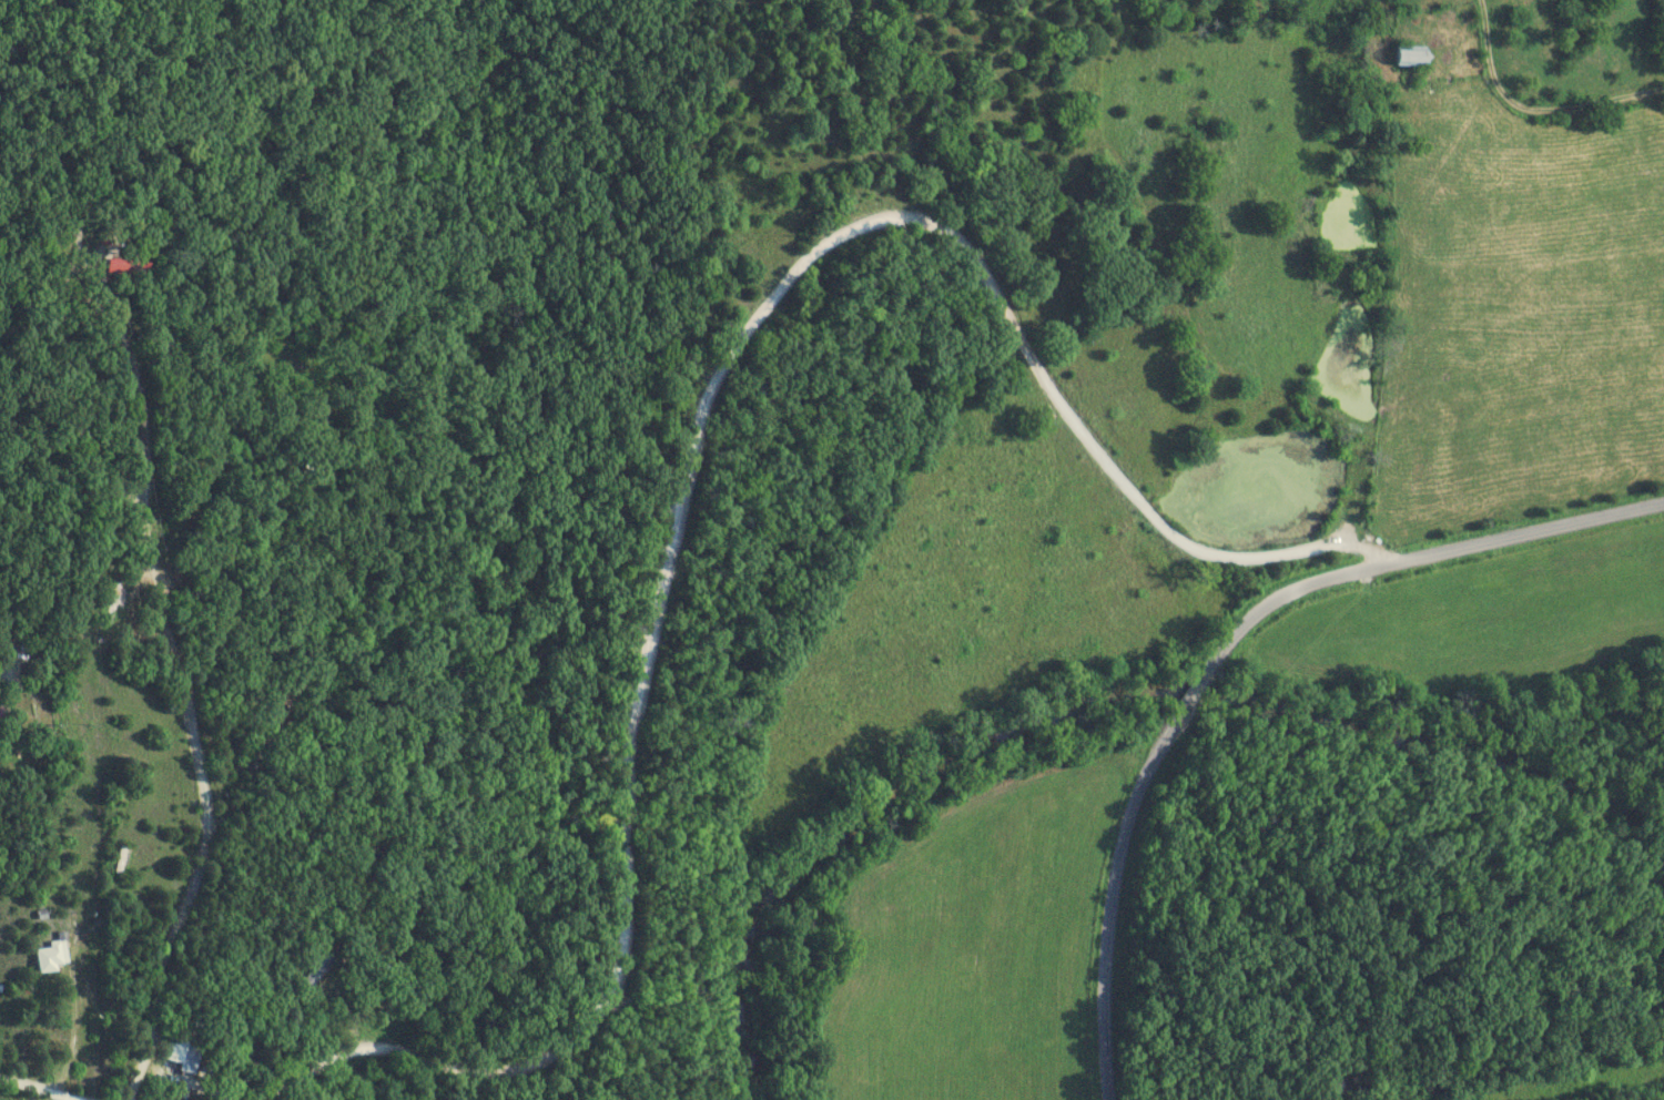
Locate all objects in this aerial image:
building: (1417, 57)
road: (1533, 111)
road: (70, 298)
road: (697, 435)
road: (199, 438)
building: (314, 460)
road: (1525, 531)
road: (1269, 604)
building: (114, 605)
road: (9, 648)
building: (0, 727)
road: (210, 797)
road: (1115, 892)
building: (55, 957)
building: (319, 969)
road: (75, 1026)
building: (177, 1053)
road: (41, 1086)

